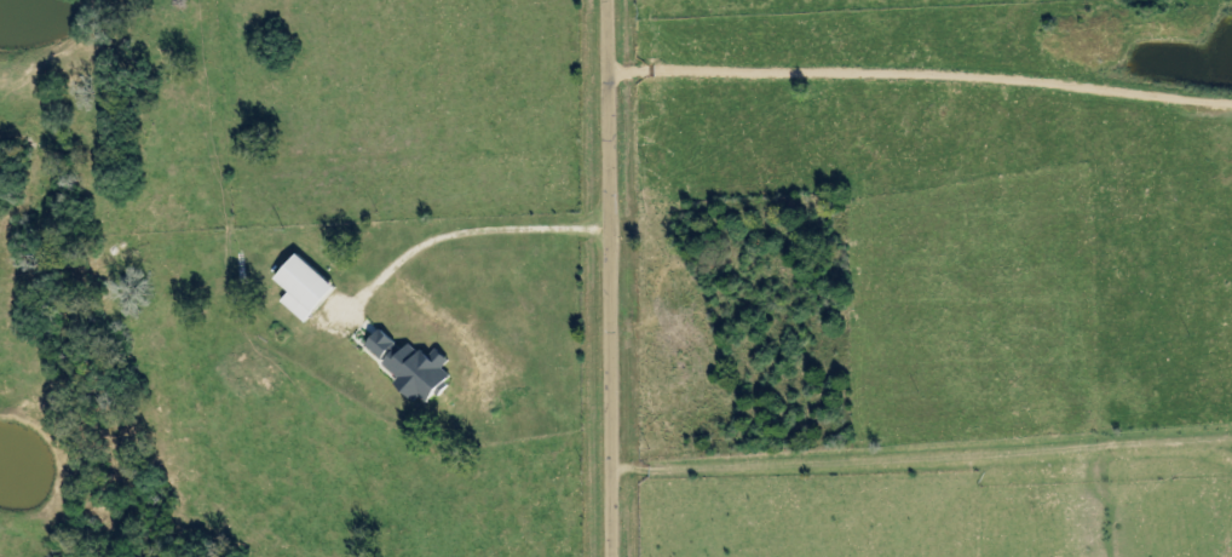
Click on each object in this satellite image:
road: (922, 75)
road: (307, 161)
road: (415, 251)
road: (615, 277)
road: (925, 455)
road: (822, 509)

